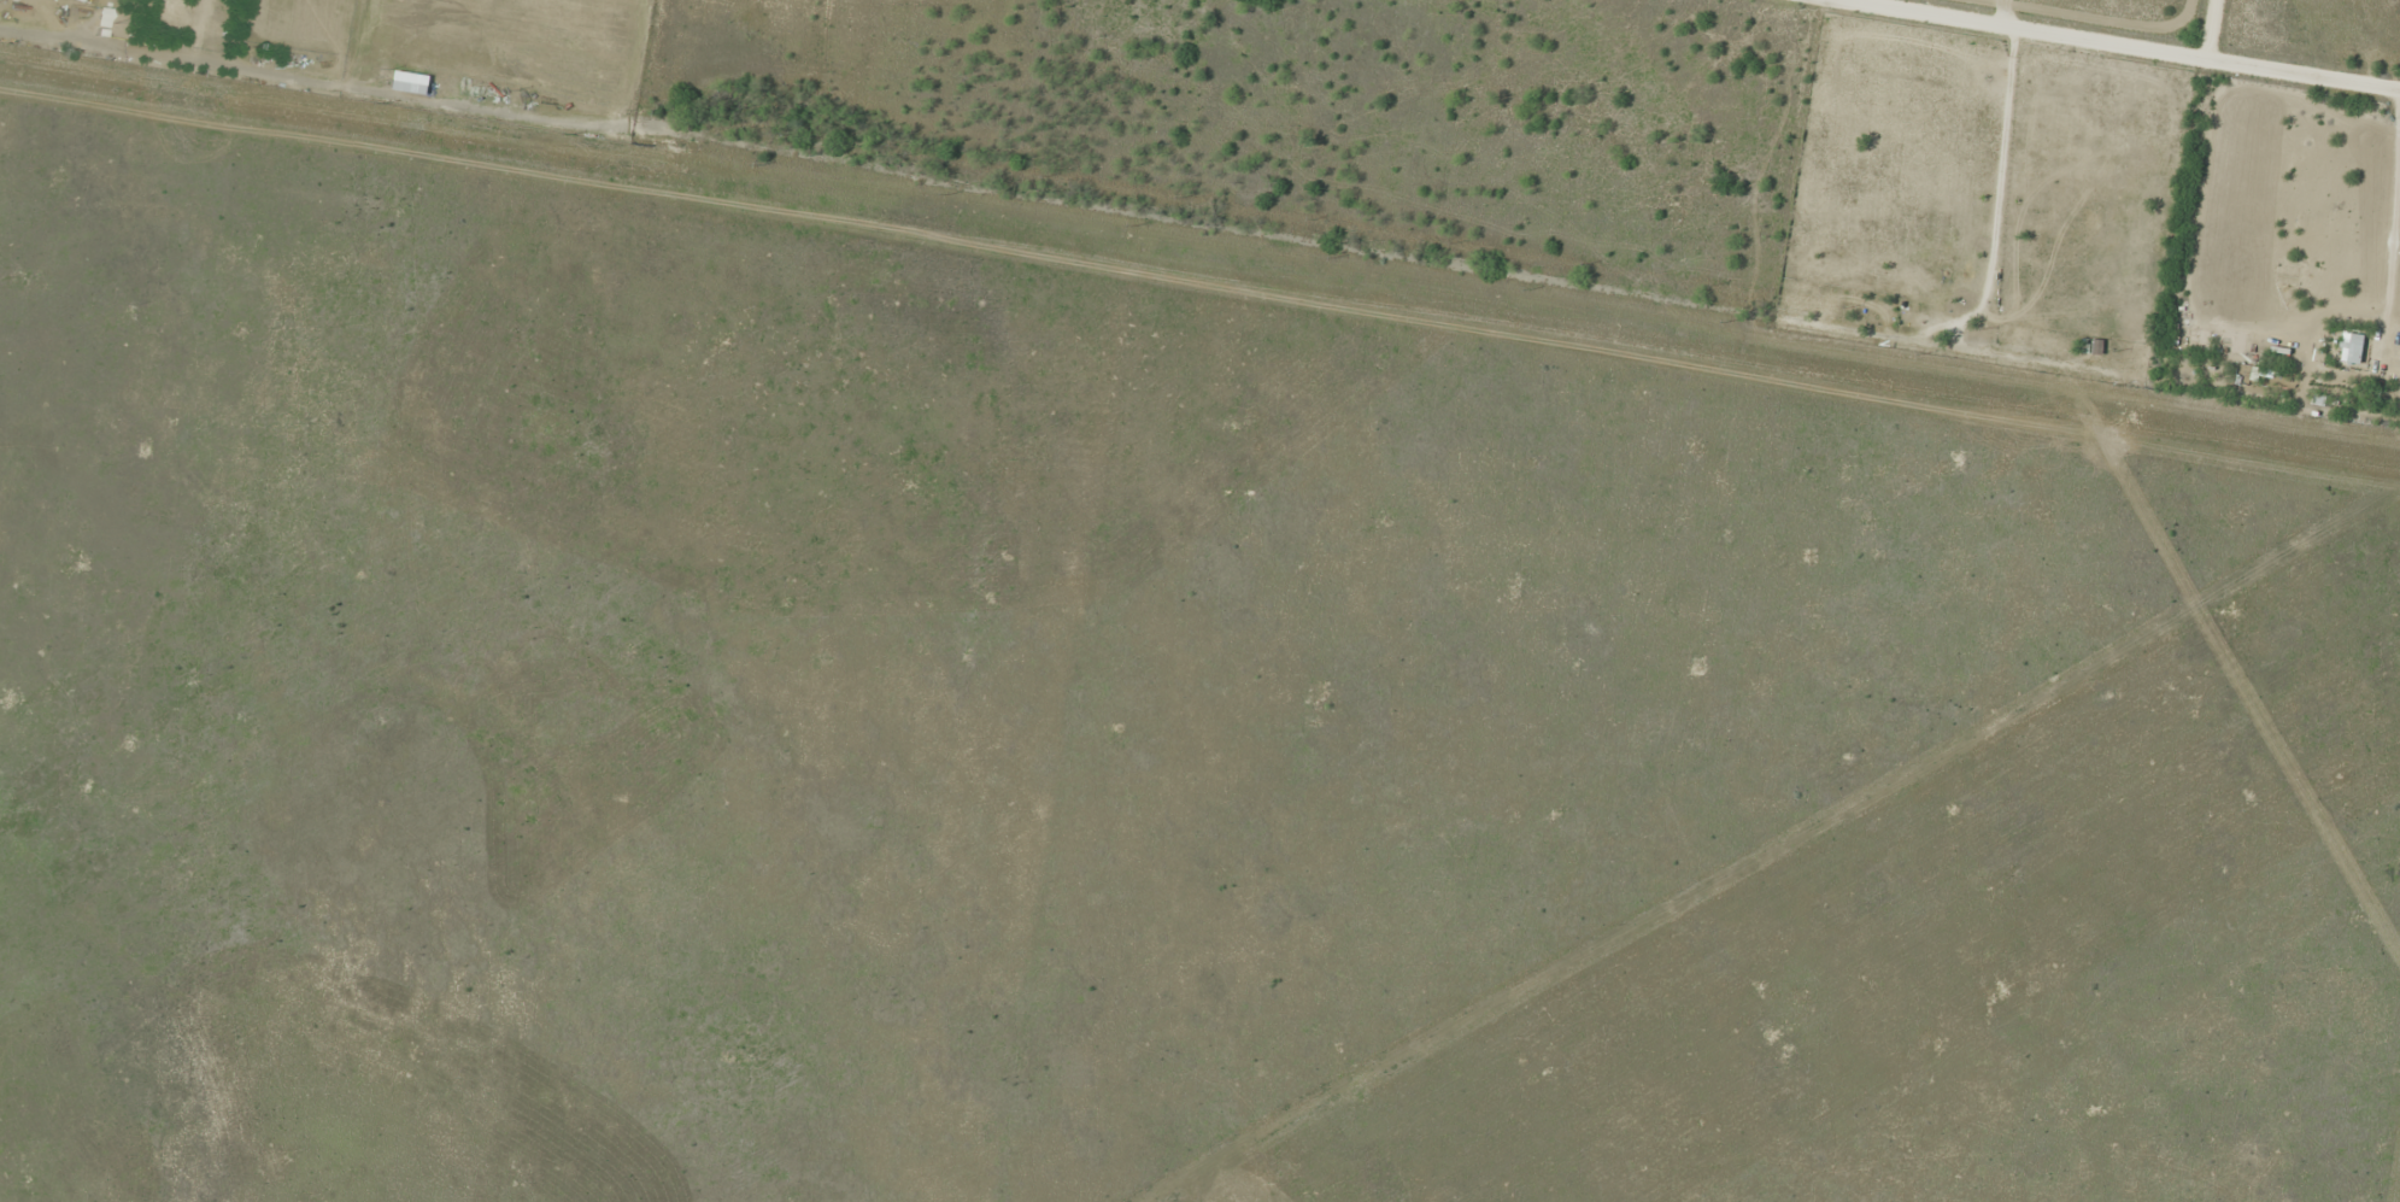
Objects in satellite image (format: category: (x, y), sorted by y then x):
road: (1199, 268)
building: (2099, 347)

